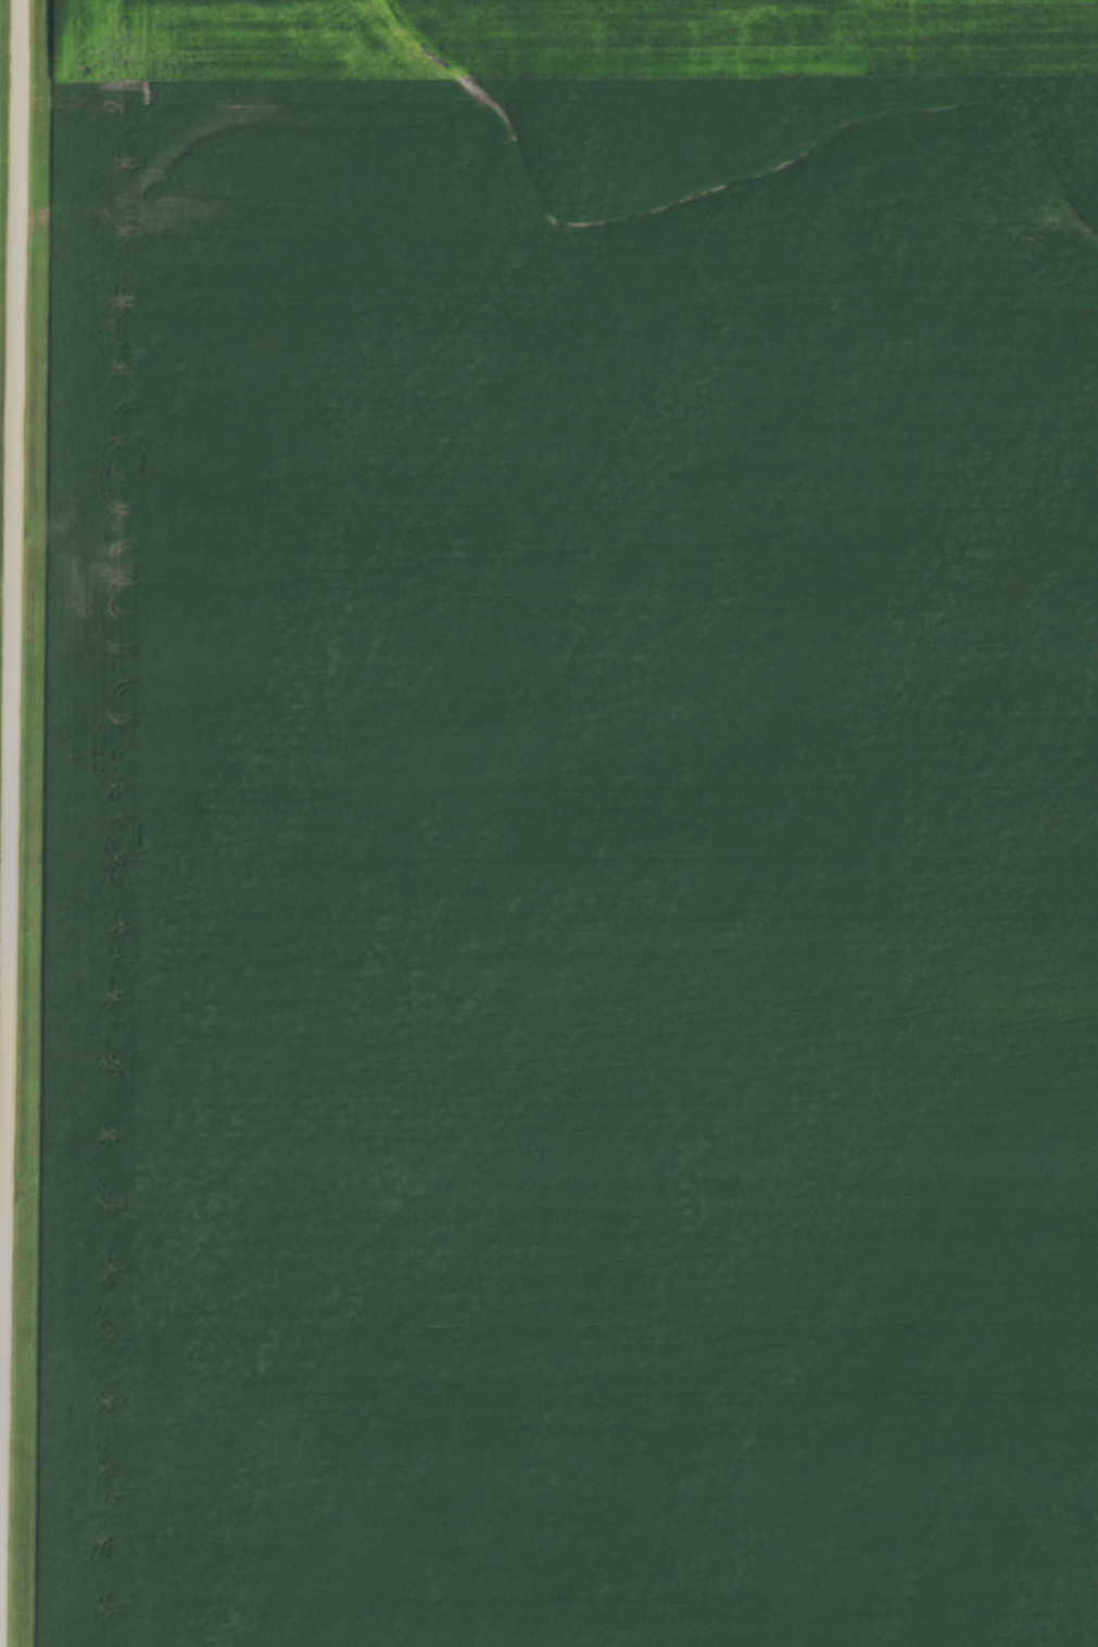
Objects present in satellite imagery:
road: (8, 610)

